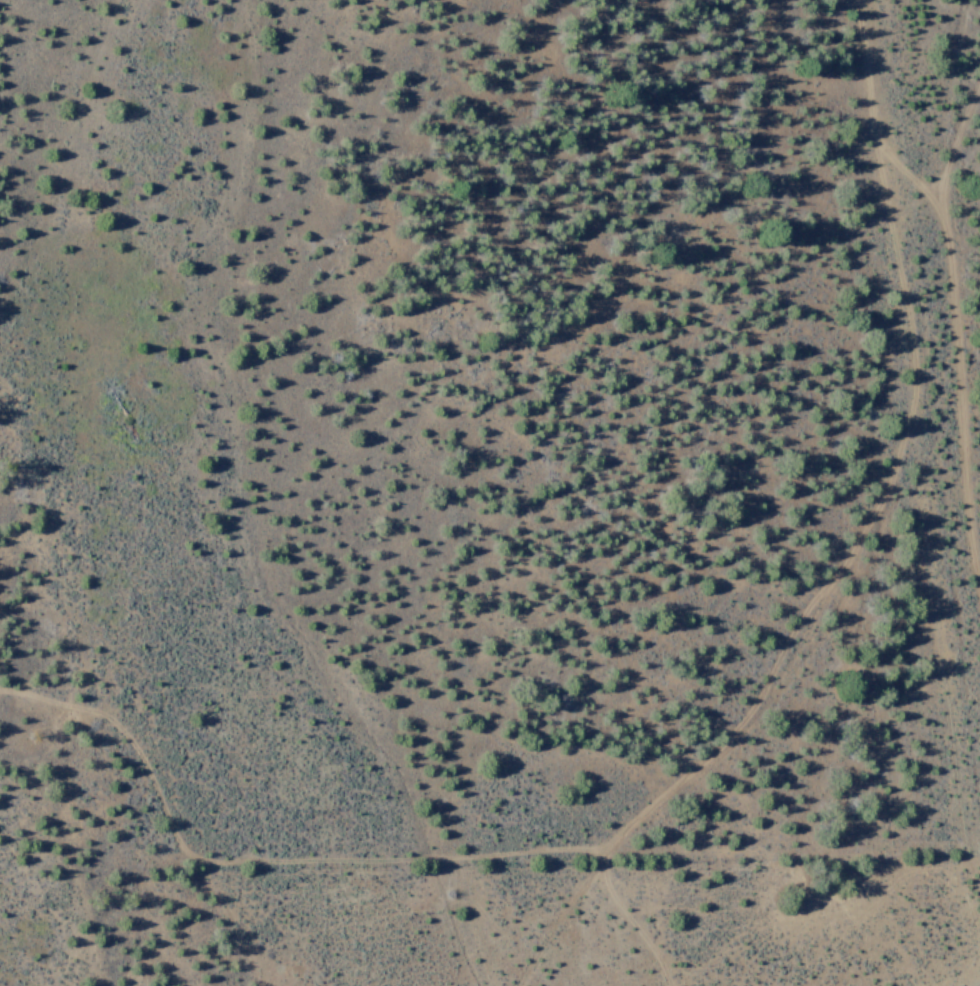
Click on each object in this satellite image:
road: (908, 174)
road: (957, 327)
road: (845, 543)
road: (979, 985)

